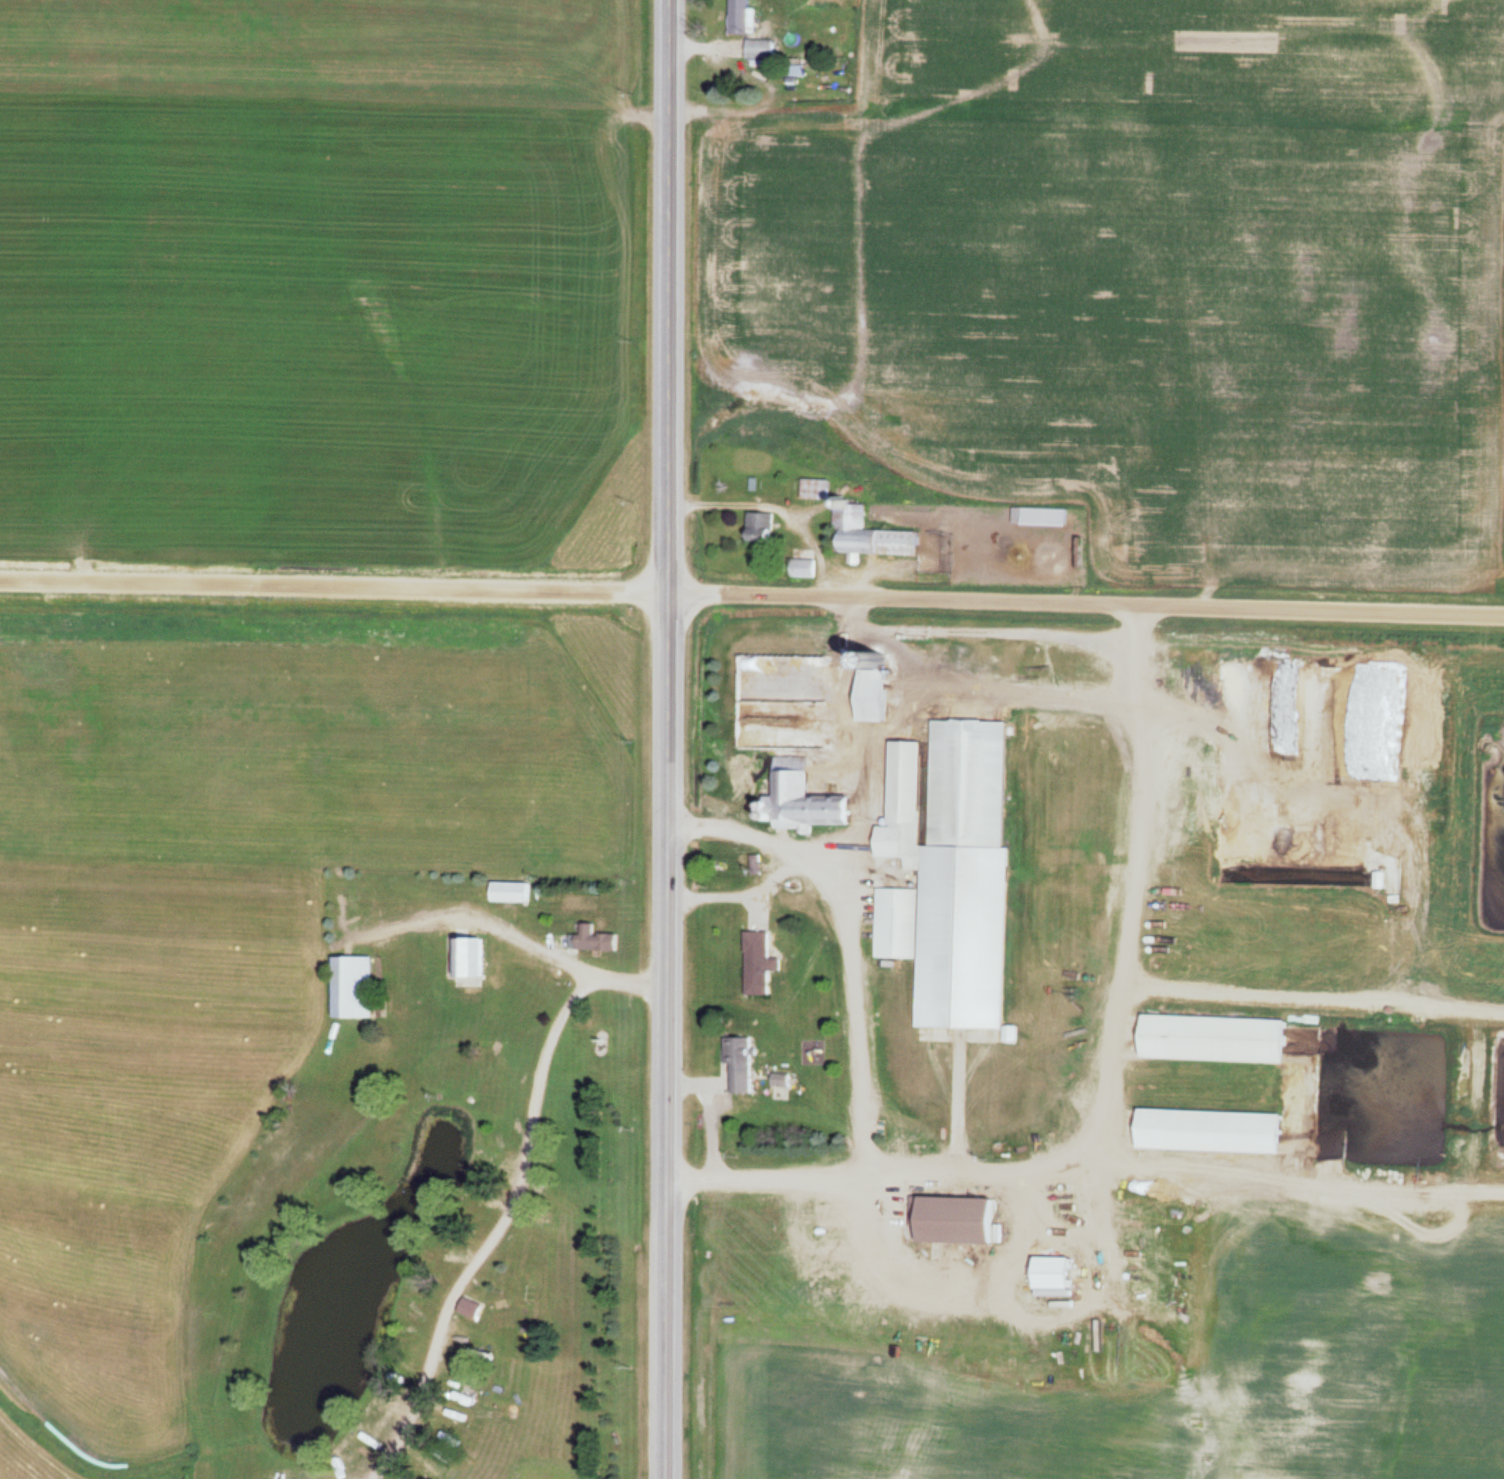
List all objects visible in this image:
building: (738, 17)
building: (756, 49)
building: (813, 490)
building: (1036, 516)
building: (757, 527)
building: (864, 534)
building: (799, 568)
road: (333, 586)
road: (1086, 597)
road: (667, 739)
building: (945, 790)
building: (798, 799)
building: (852, 881)
building: (508, 892)
road: (470, 922)
building: (894, 924)
building: (590, 940)
building: (466, 960)
building: (756, 964)
building: (350, 988)
building: (1208, 1039)
building: (737, 1066)
building: (1204, 1132)
road: (513, 1201)
building: (948, 1218)
building: (1048, 1272)
building: (467, 1307)

